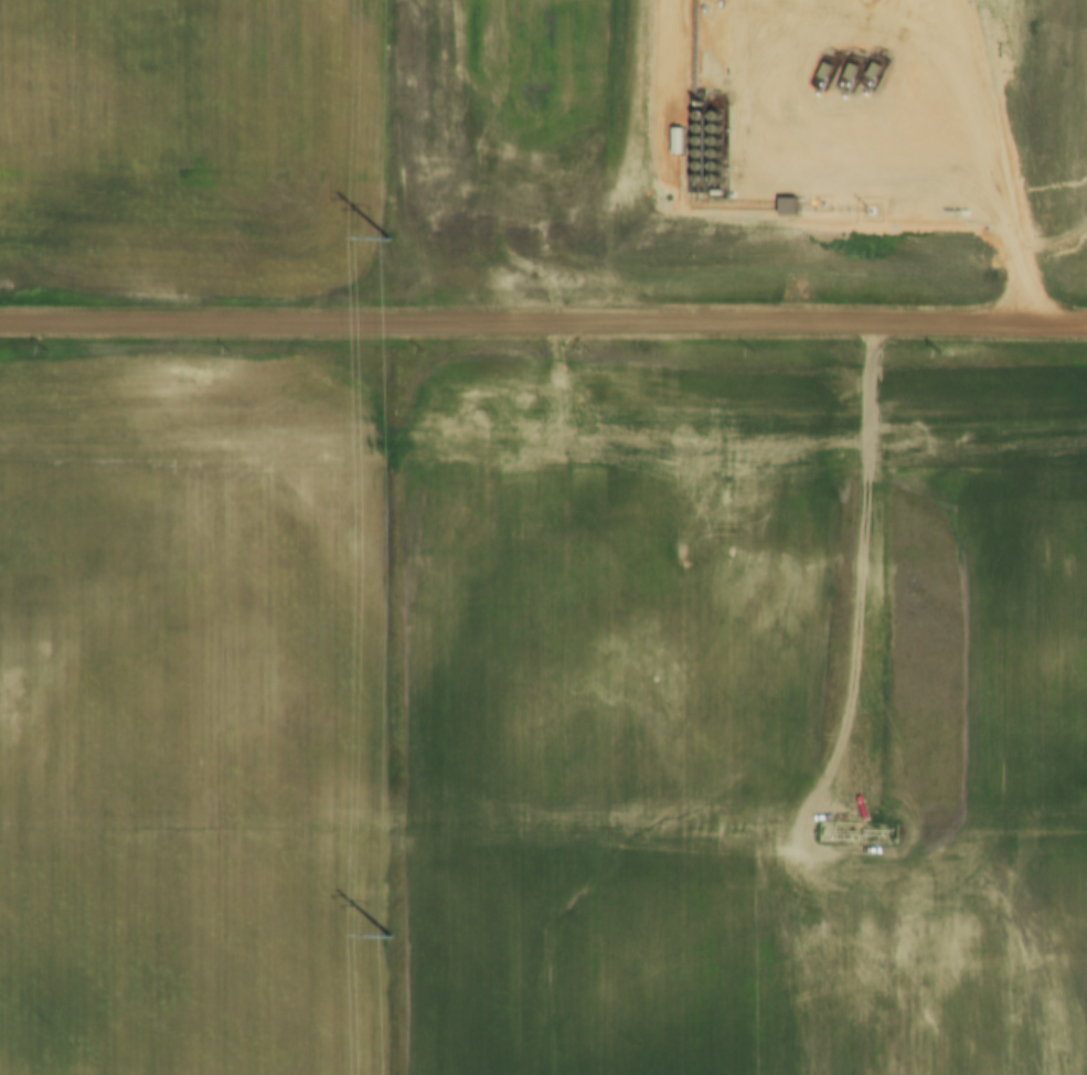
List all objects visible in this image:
road: (828, 24)
petroleum well: (873, 63)
petroleum well: (849, 64)
petroleum well: (821, 67)
building: (674, 139)
building: (714, 192)
building: (784, 205)
power tower: (393, 240)
road: (543, 326)
power tower: (396, 936)

